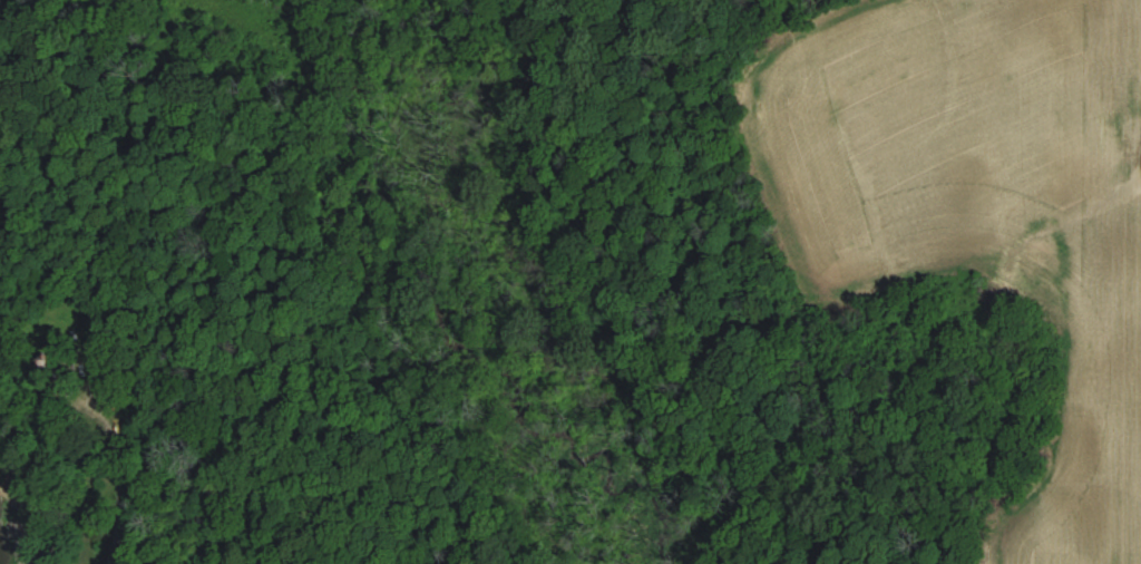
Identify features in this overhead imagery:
road: (145, 451)

